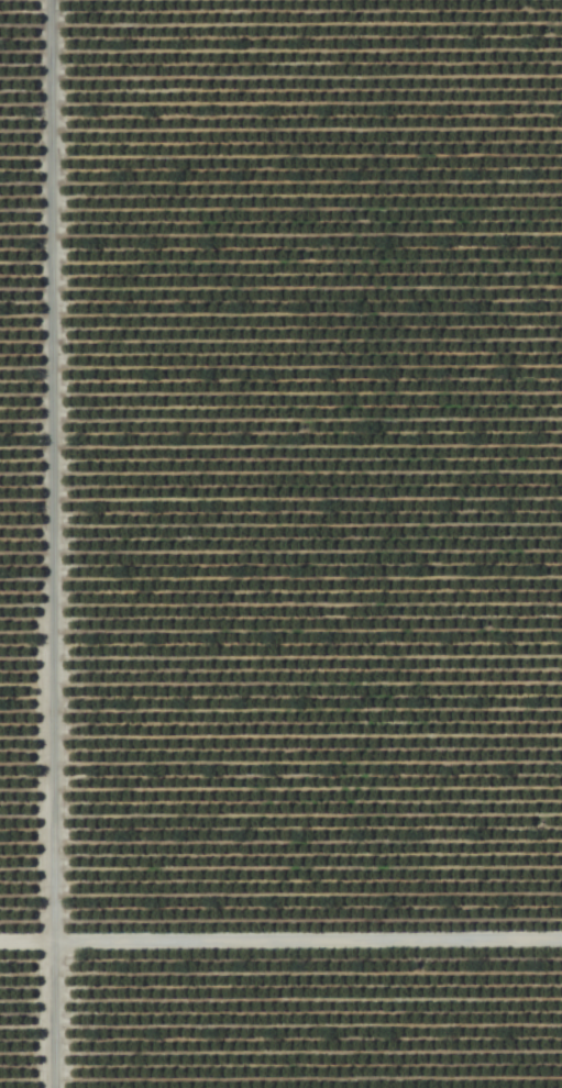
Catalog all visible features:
road: (47, 544)
crop: (280, 544)
road: (280, 944)

